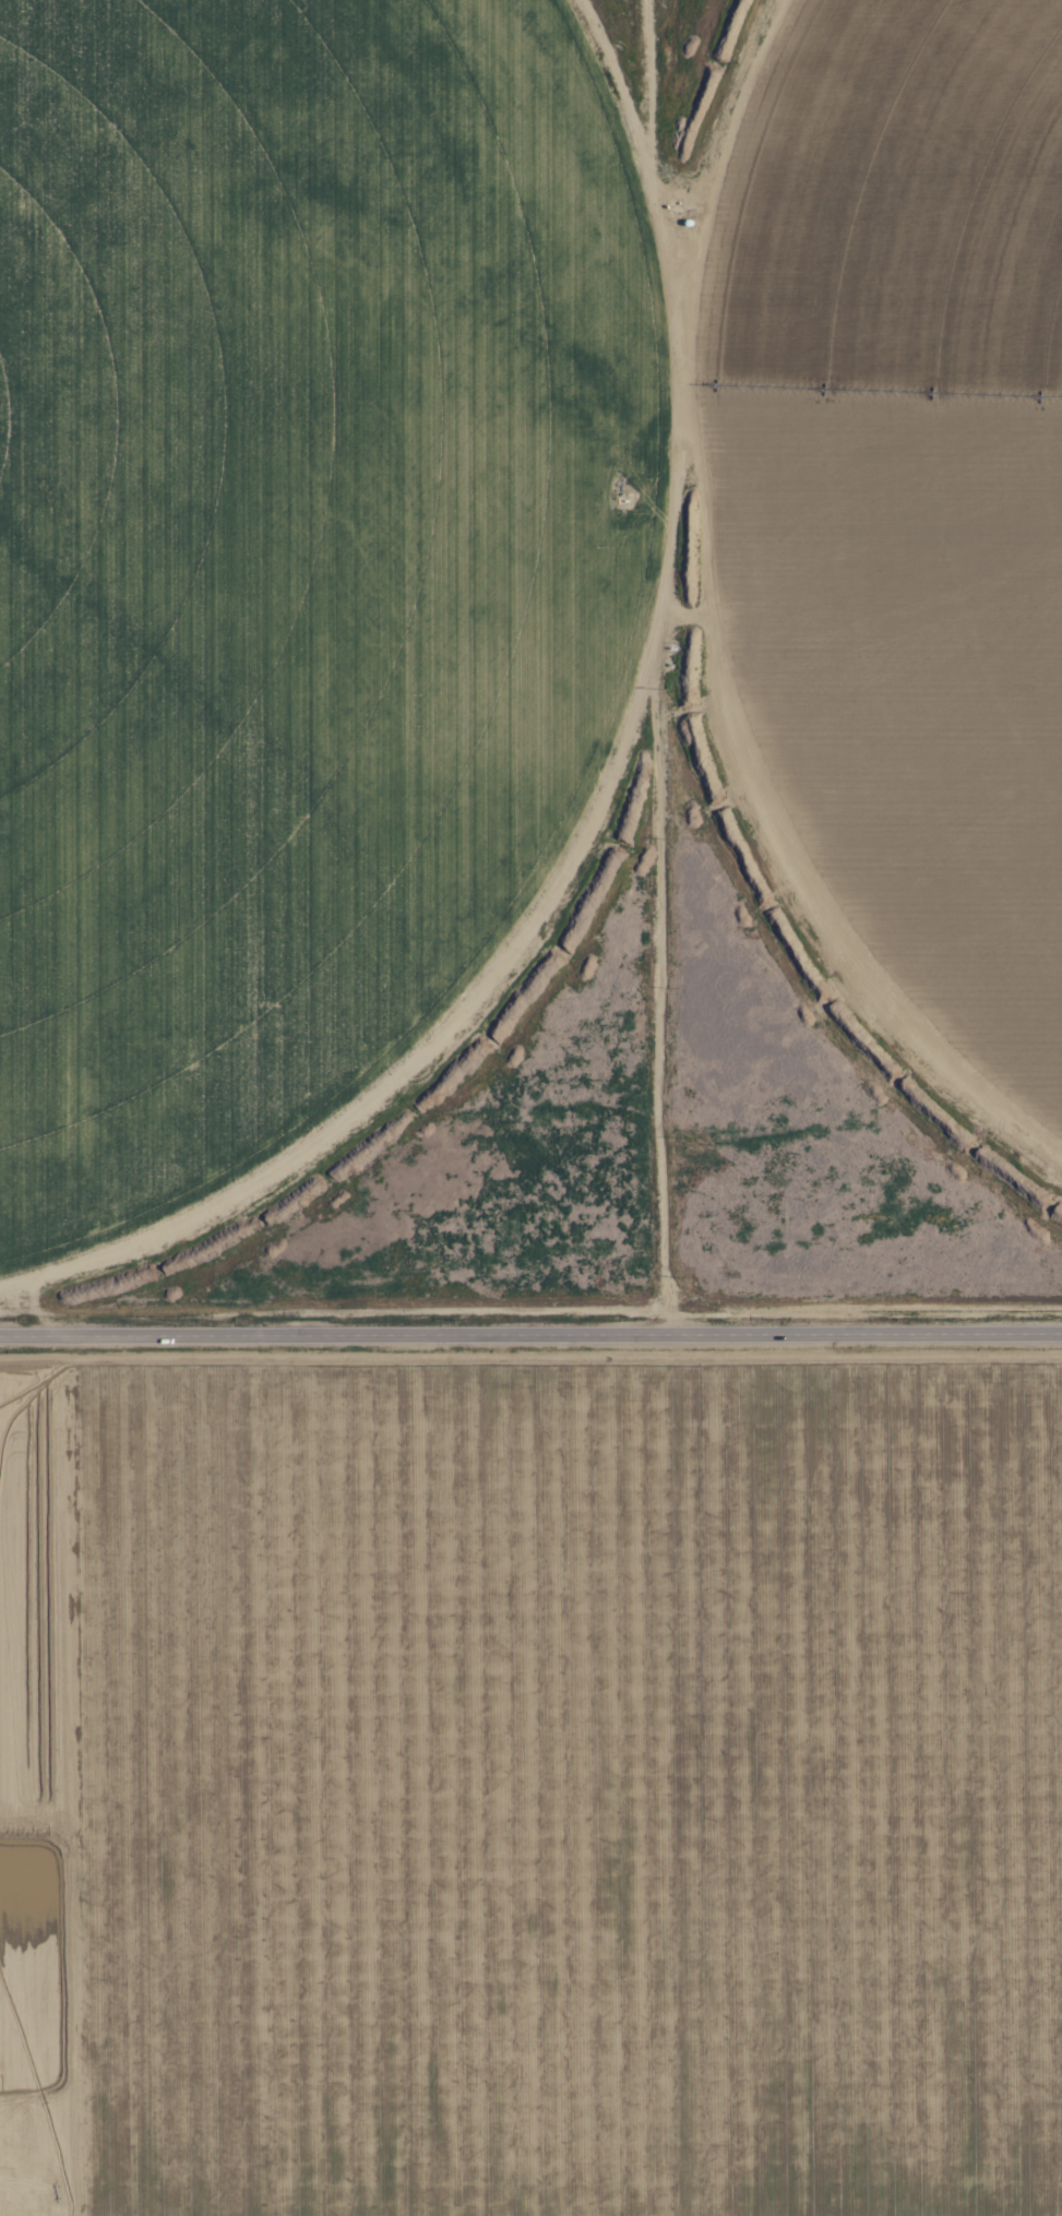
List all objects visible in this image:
crop: (497, 555)
road: (530, 1337)
crop: (530, 1773)

